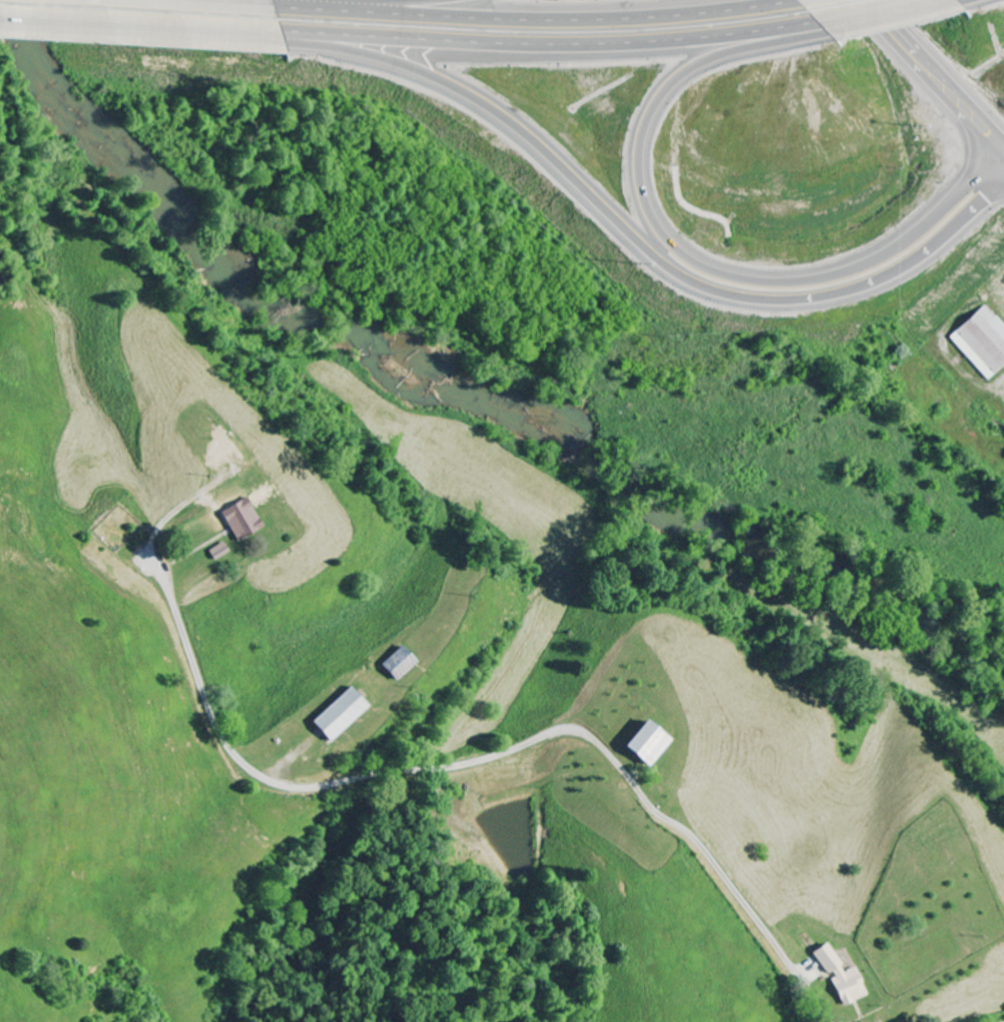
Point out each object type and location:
road: (411, 1)
road: (546, 9)
road: (876, 13)
road: (883, 24)
road: (139, 26)
road: (546, 42)
road: (955, 101)
road: (607, 221)
road: (679, 251)
building: (980, 342)
river: (466, 371)
building: (239, 520)
building: (217, 552)
building: (397, 665)
building: (337, 716)
building: (644, 745)
road: (492, 755)
building: (839, 978)

